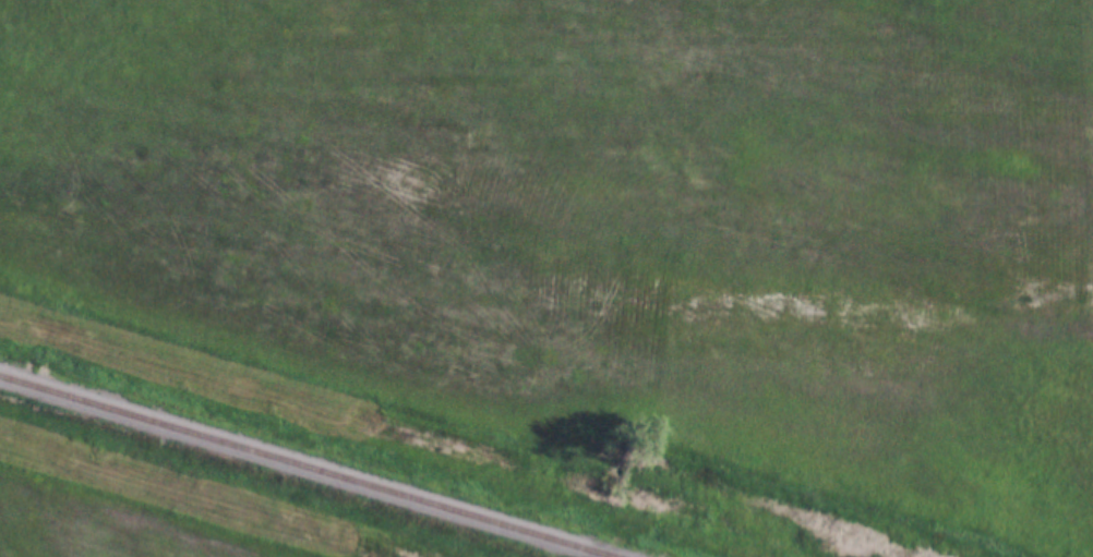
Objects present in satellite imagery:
railway: (303, 467)

